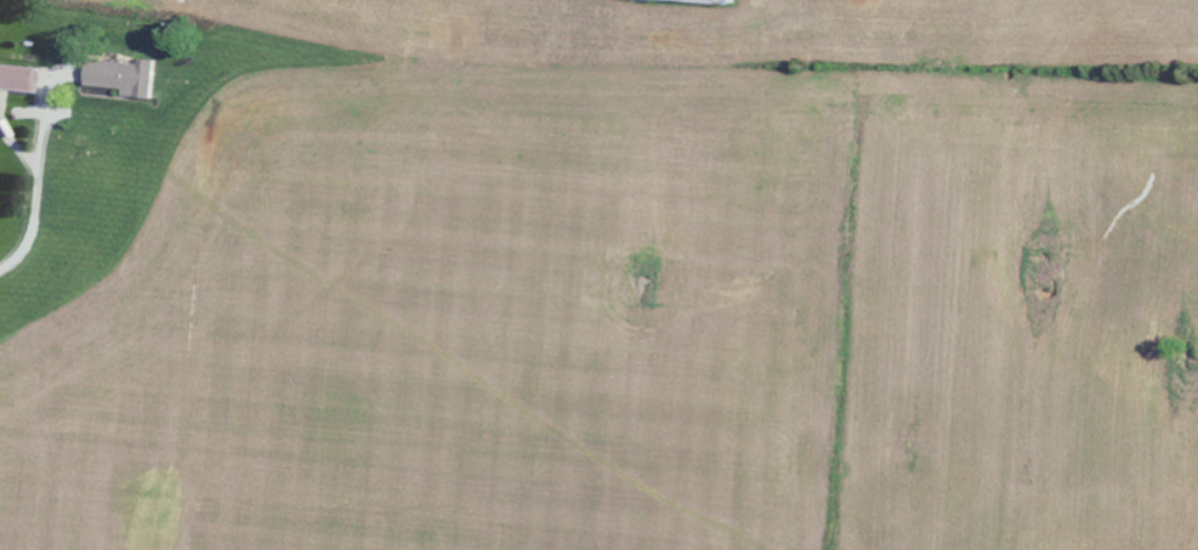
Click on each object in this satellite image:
building: (711, 0)
building: (126, 76)
building: (19, 78)

